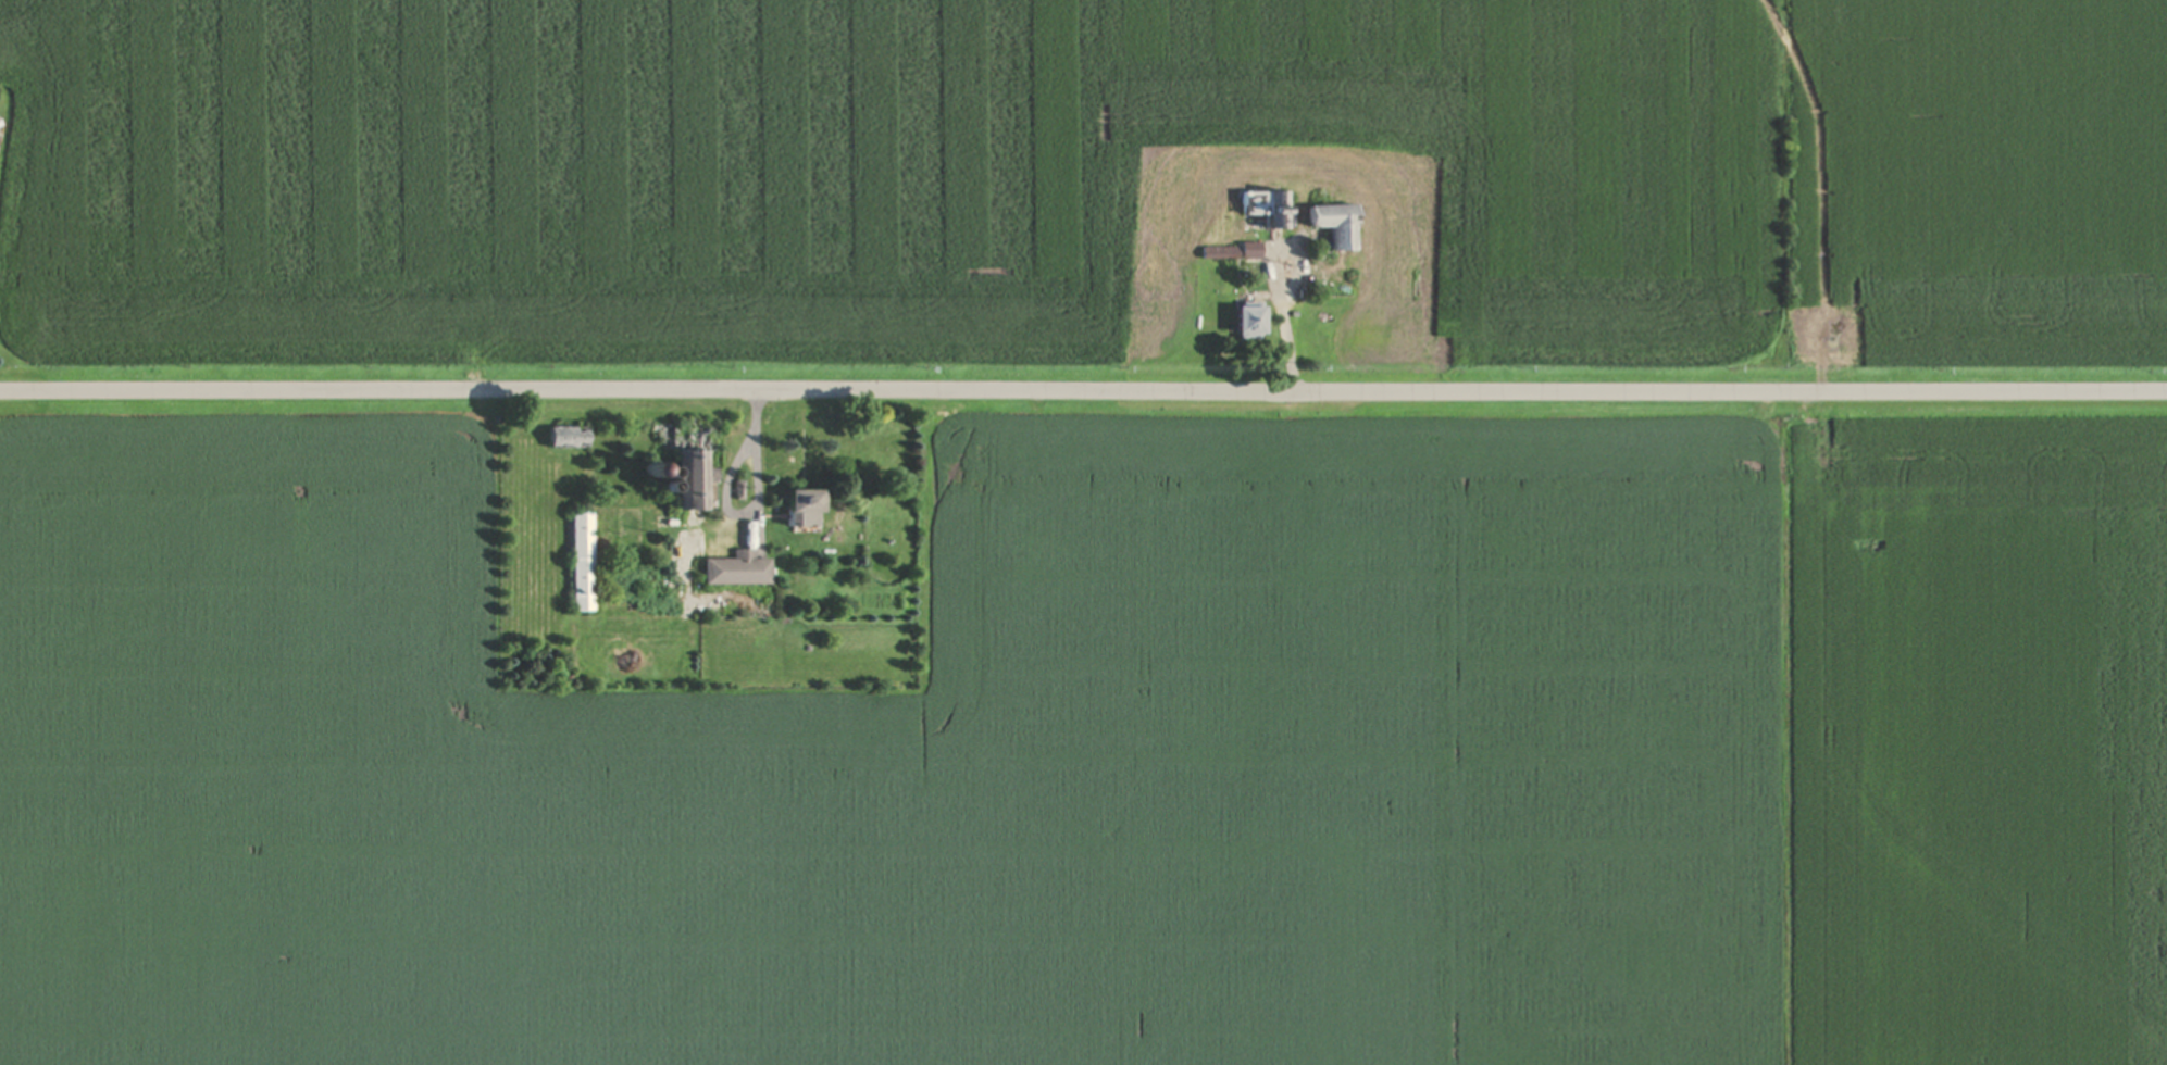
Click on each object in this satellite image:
crop: (874, 174)
crop: (1979, 179)
building: (1262, 206)
building: (1332, 224)
building: (1230, 251)
building: (1242, 319)
road: (1083, 388)
building: (563, 435)
building: (684, 458)
building: (795, 502)
building: (580, 560)
building: (734, 567)
crop: (1973, 751)
crop: (905, 768)

